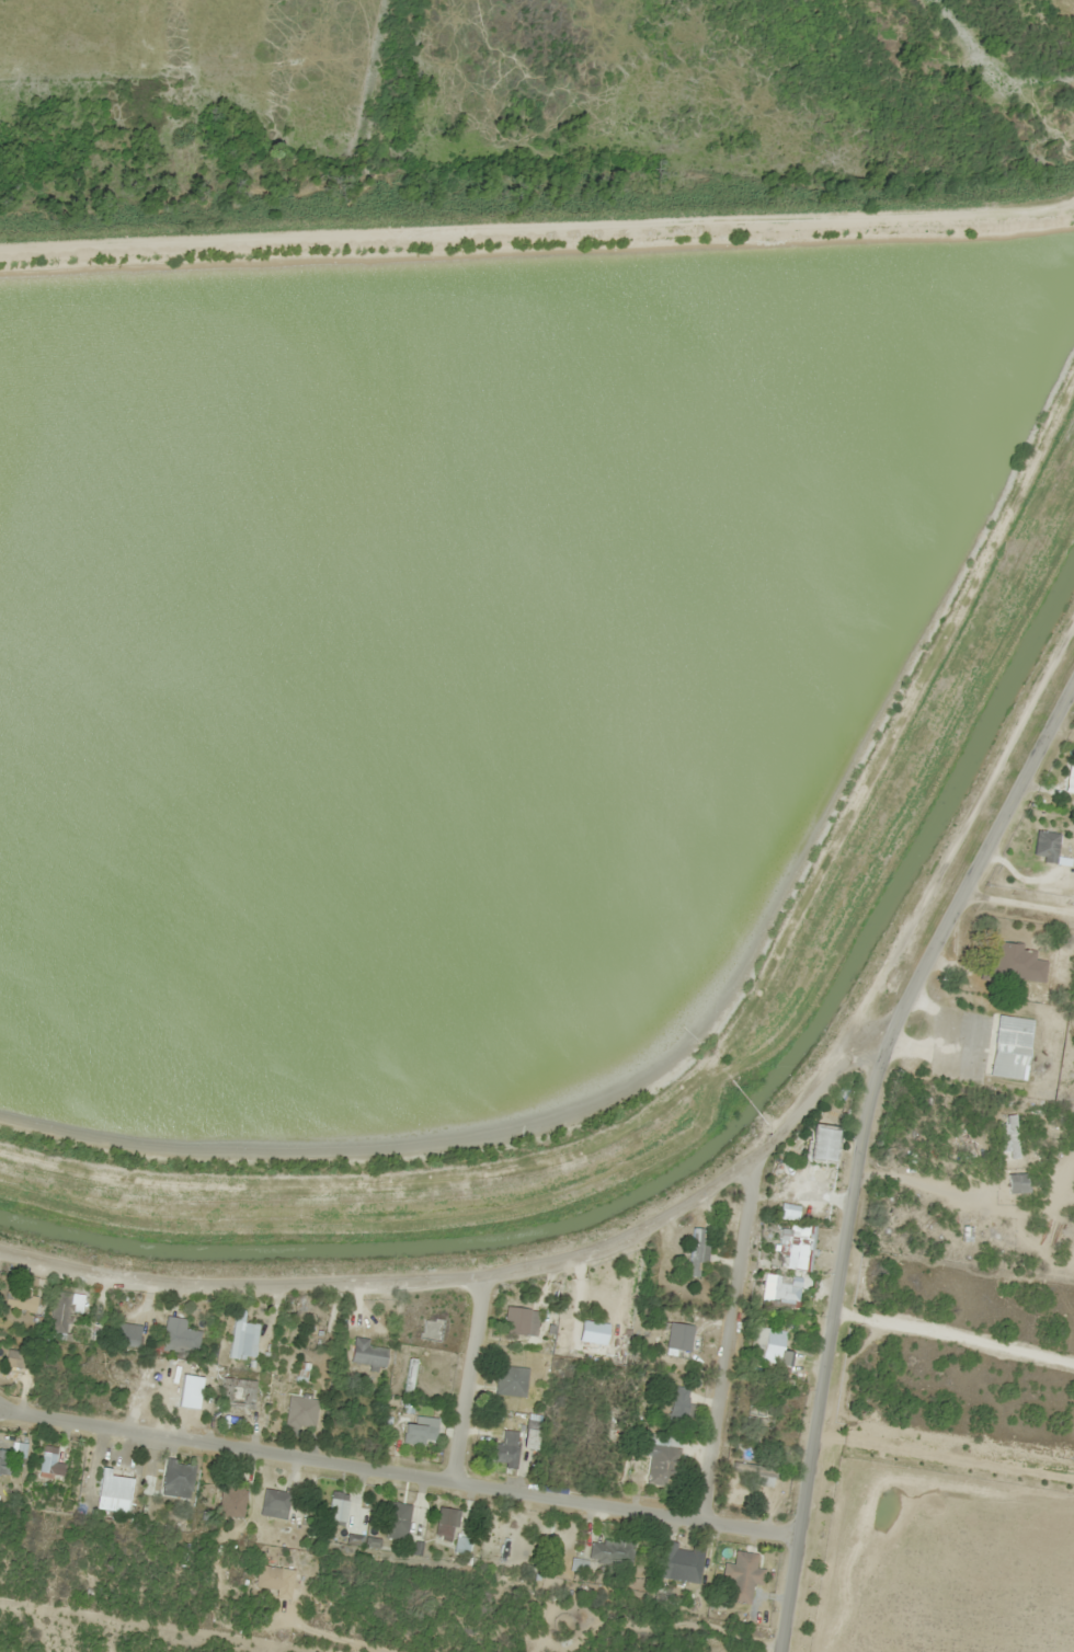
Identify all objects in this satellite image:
river: (1002, 64)
building: (1073, 780)
building: (1042, 847)
building: (1014, 965)
road: (984, 1037)
building: (1007, 1048)
road: (861, 1143)
building: (814, 1154)
building: (813, 1217)
building: (795, 1249)
building: (696, 1254)
road: (478, 1277)
building: (779, 1289)
building: (21, 1303)
building: (59, 1311)
building: (521, 1321)
building: (432, 1329)
building: (125, 1333)
building: (179, 1335)
building: (243, 1338)
road: (728, 1339)
building: (767, 1347)
building: (368, 1354)
building: (14, 1368)
building: (302, 1374)
building: (411, 1376)
road: (468, 1379)
building: (512, 1381)
building: (138, 1387)
building: (764, 1388)
building: (190, 1391)
building: (238, 1393)
building: (681, 1413)
building: (762, 1415)
building: (301, 1416)
building: (419, 1427)
building: (533, 1438)
building: (505, 1449)
building: (656, 1459)
building: (3, 1461)
building: (50, 1462)
road: (399, 1472)
building: (753, 1472)
building: (179, 1479)
building: (116, 1483)
building: (230, 1500)
building: (275, 1504)
building: (339, 1507)
building: (399, 1521)
building: (446, 1523)
building: (462, 1542)
building: (612, 1550)
building: (682, 1563)
building: (742, 1578)

